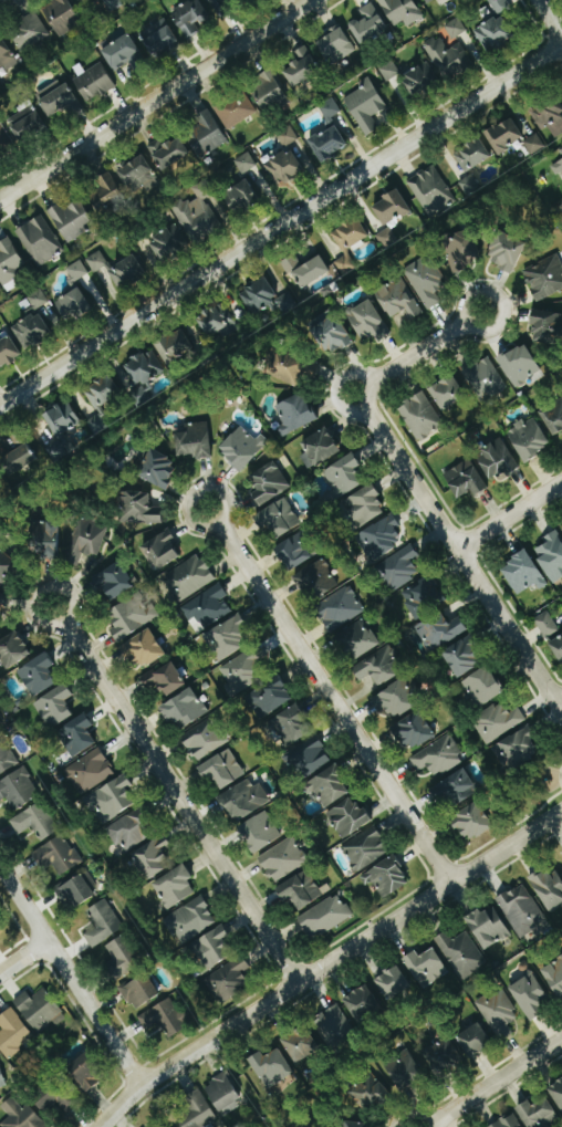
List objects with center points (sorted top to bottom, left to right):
building: (83, 1)
building: (427, 1)
building: (113, 4)
building: (221, 4)
building: (500, 7)
building: (402, 11)
building: (61, 15)
building: (190, 18)
road: (550, 18)
building: (368, 24)
building: (456, 28)
building: (29, 33)
building: (495, 33)
building: (160, 36)
building: (335, 45)
building: (122, 52)
building: (6, 54)
building: (449, 58)
building: (302, 67)
building: (389, 70)
building: (420, 79)
building: (94, 83)
building: (270, 90)
building: (58, 98)
road: (156, 100)
building: (366, 105)
building: (236, 109)
building: (549, 116)
building: (28, 125)
building: (206, 134)
building: (504, 135)
building: (287, 136)
building: (4, 140)
building: (329, 144)
building: (533, 144)
building: (168, 152)
building: (471, 155)
building: (244, 163)
building: (559, 165)
building: (285, 167)
building: (137, 175)
building: (469, 185)
building: (105, 190)
building: (431, 190)
building: (240, 196)
building: (392, 208)
building: (71, 219)
road: (281, 225)
building: (188, 226)
building: (387, 237)
building: (40, 240)
building: (348, 242)
building: (461, 250)
building: (507, 252)
building: (9, 261)
building: (116, 270)
building: (305, 270)
building: (77, 271)
building: (544, 278)
building: (426, 281)
building: (38, 299)
building: (267, 299)
building: (398, 299)
road: (501, 302)
building: (73, 305)
building: (219, 321)
building: (367, 322)
building: (547, 327)
building: (31, 331)
building: (331, 332)
building: (175, 346)
building: (8, 352)
road: (409, 356)
building: (520, 365)
building: (284, 367)
road: (351, 374)
building: (143, 376)
building: (486, 380)
building: (448, 394)
building: (102, 401)
road: (344, 407)
building: (295, 414)
building: (420, 417)
building: (62, 428)
building: (529, 439)
building: (195, 441)
building: (241, 449)
building: (320, 449)
building: (496, 459)
building: (19, 461)
building: (158, 470)
building: (344, 476)
building: (466, 480)
building: (270, 483)
road: (196, 489)
building: (365, 507)
building: (139, 510)
road: (509, 515)
building: (279, 518)
building: (561, 528)
building: (381, 539)
building: (46, 541)
building: (85, 541)
building: (164, 549)
building: (296, 551)
building: (551, 556)
road: (460, 557)
building: (7, 567)
building: (399, 568)
building: (523, 573)
building: (189, 577)
building: (316, 581)
building: (115, 582)
road: (41, 586)
building: (421, 597)
building: (3, 608)
building: (207, 608)
building: (340, 608)
building: (131, 616)
building: (547, 624)
building: (438, 632)
building: (228, 638)
building: (358, 639)
building: (558, 648)
building: (13, 650)
building: (145, 650)
building: (464, 657)
building: (379, 667)
building: (242, 672)
building: (38, 675)
building: (165, 679)
building: (482, 687)
building: (269, 698)
building: (397, 699)
road: (334, 705)
road: (559, 706)
building: (55, 707)
building: (184, 710)
building: (498, 721)
building: (291, 726)
building: (414, 731)
building: (76, 735)
building: (204, 739)
building: (518, 749)
building: (438, 756)
building: (6, 758)
building: (308, 758)
building: (222, 770)
building: (90, 771)
building: (329, 786)
building: (456, 789)
building: (18, 790)
building: (111, 800)
building: (244, 800)
road: (181, 803)
building: (350, 818)
building: (35, 821)
building: (472, 823)
building: (128, 831)
building: (259, 833)
building: (365, 849)
building: (58, 855)
building: (153, 858)
building: (283, 859)
building: (387, 877)
building: (175, 887)
building: (549, 888)
building: (75, 890)
building: (300, 890)
building: (521, 910)
building: (325, 916)
building: (189, 920)
building: (103, 923)
building: (488, 928)
building: (211, 949)
building: (461, 954)
road: (22, 957)
building: (122, 958)
road: (326, 963)
building: (426, 968)
building: (554, 975)
road: (70, 978)
building: (230, 979)
building: (393, 984)
building: (140, 991)
building: (530, 995)
building: (363, 1004)
building: (40, 1009)
building: (498, 1012)
building: (165, 1018)
building: (333, 1025)
building: (13, 1033)
building: (475, 1040)
building: (301, 1043)
building: (445, 1053)
building: (271, 1066)
building: (404, 1069)
building: (86, 1072)
building: (1, 1079)
road: (492, 1082)
building: (558, 1092)
building: (370, 1093)
building: (223, 1094)
building: (54, 1097)
building: (197, 1112)
building: (538, 1113)
building: (20, 1114)
building: (507, 1121)
building: (356, 1125)

